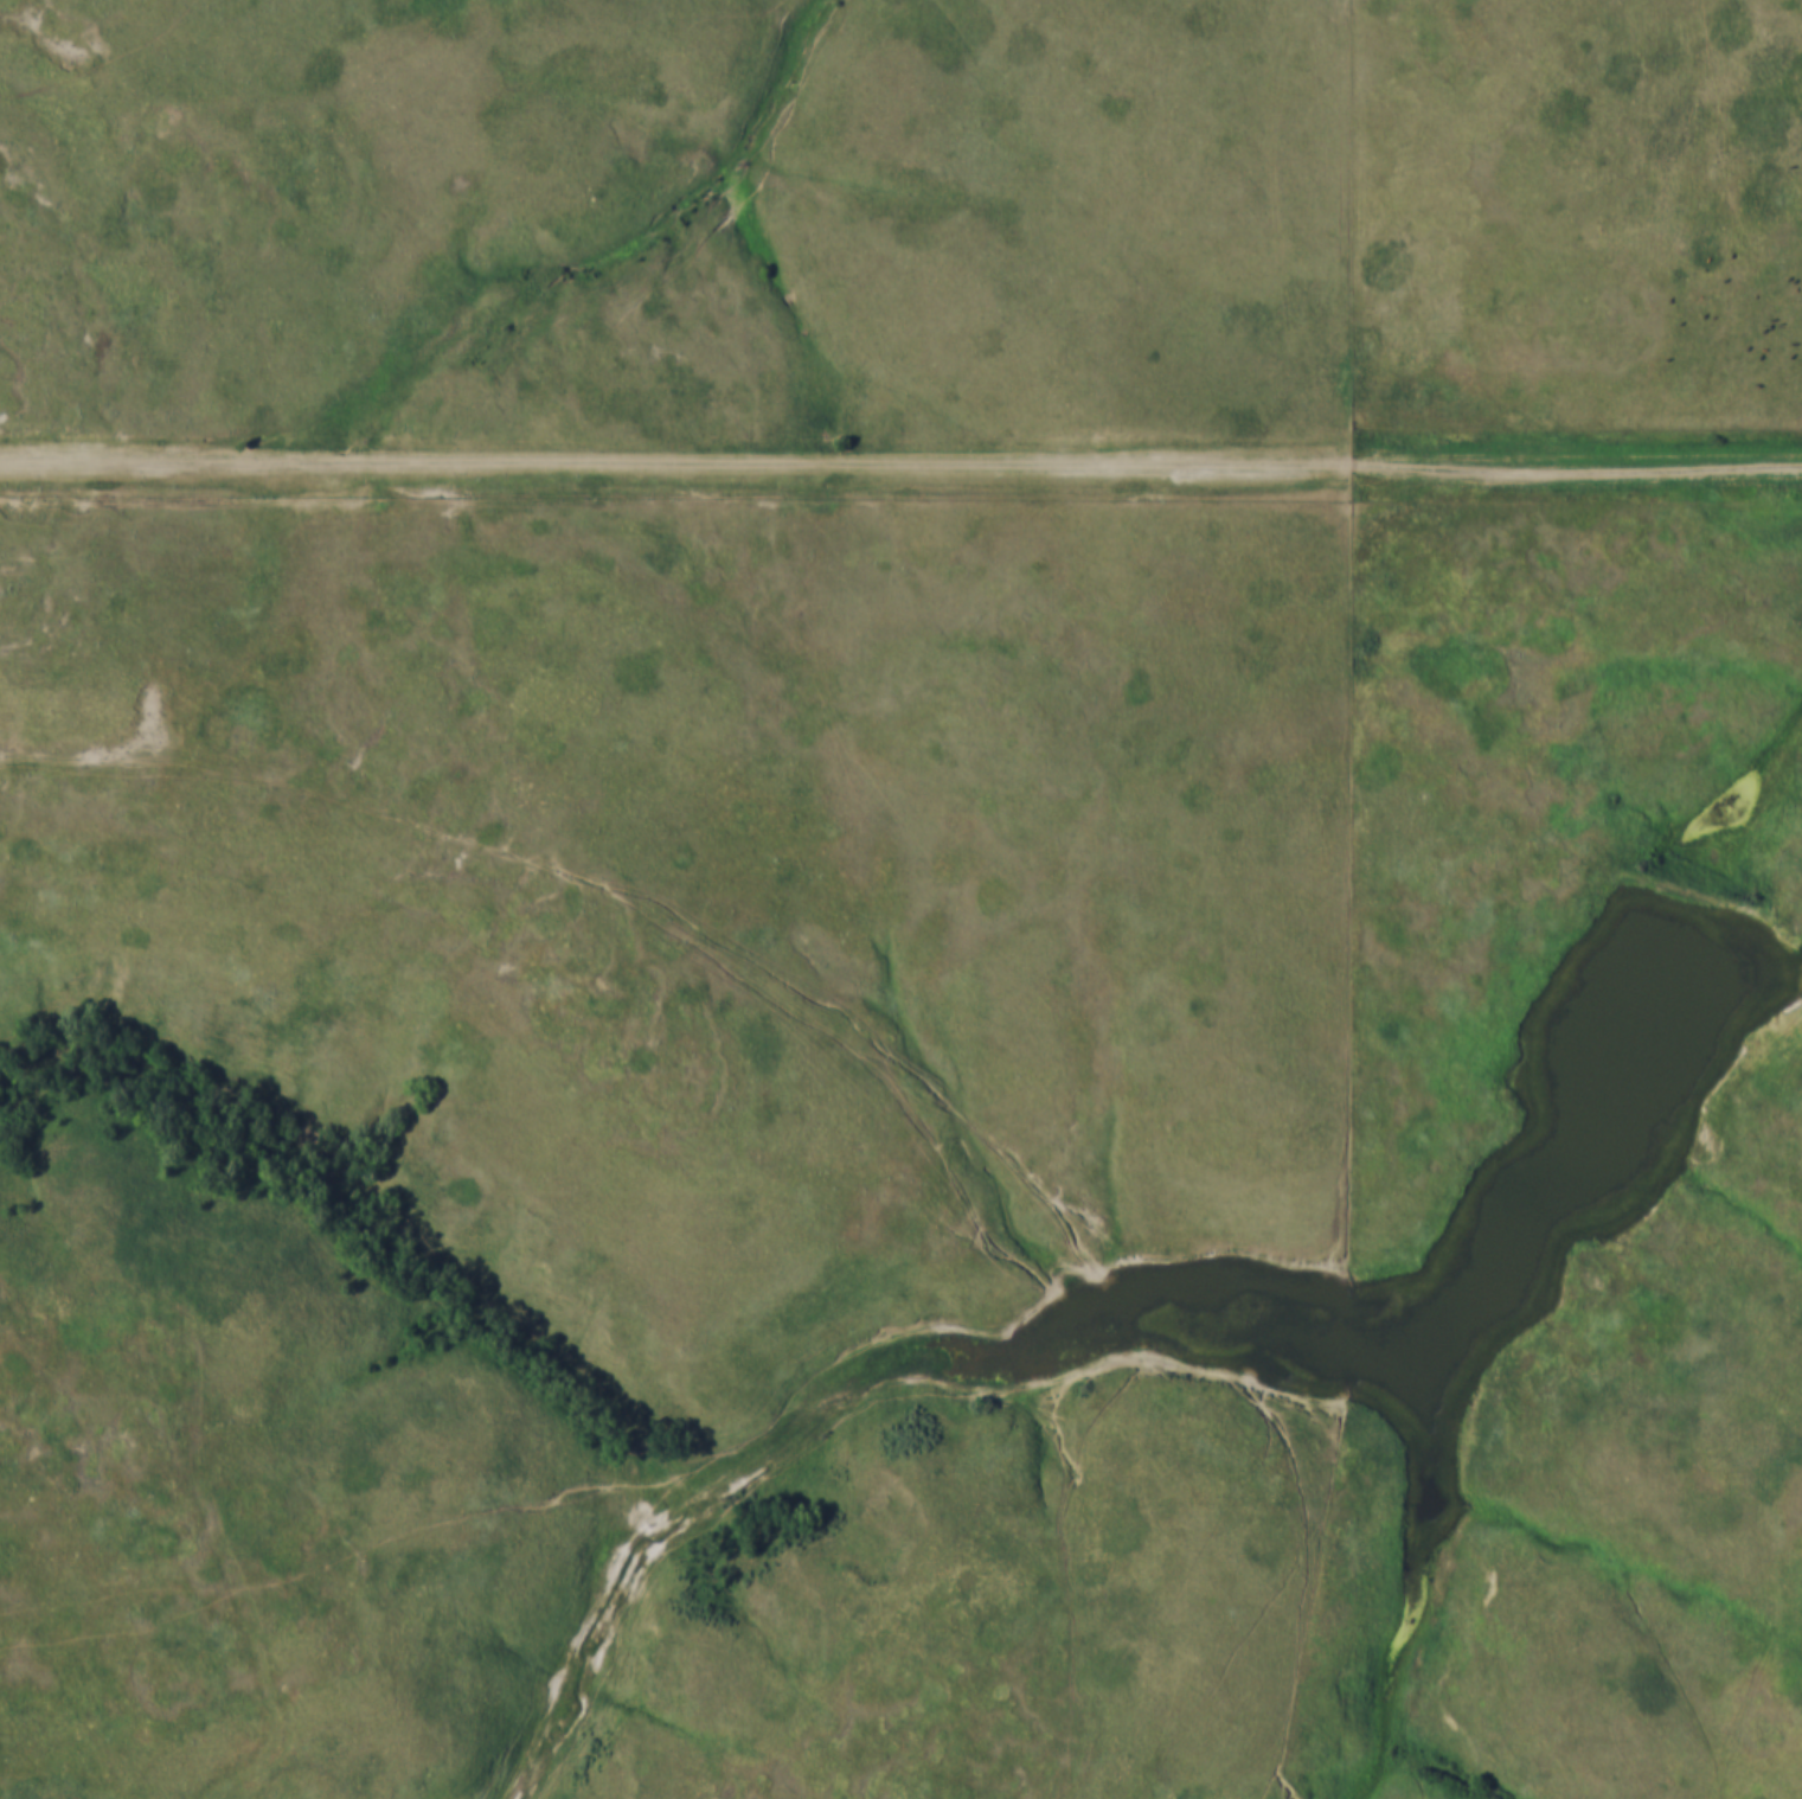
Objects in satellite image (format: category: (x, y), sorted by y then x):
road: (900, 462)
road: (1358, 640)
road: (1540, 980)

